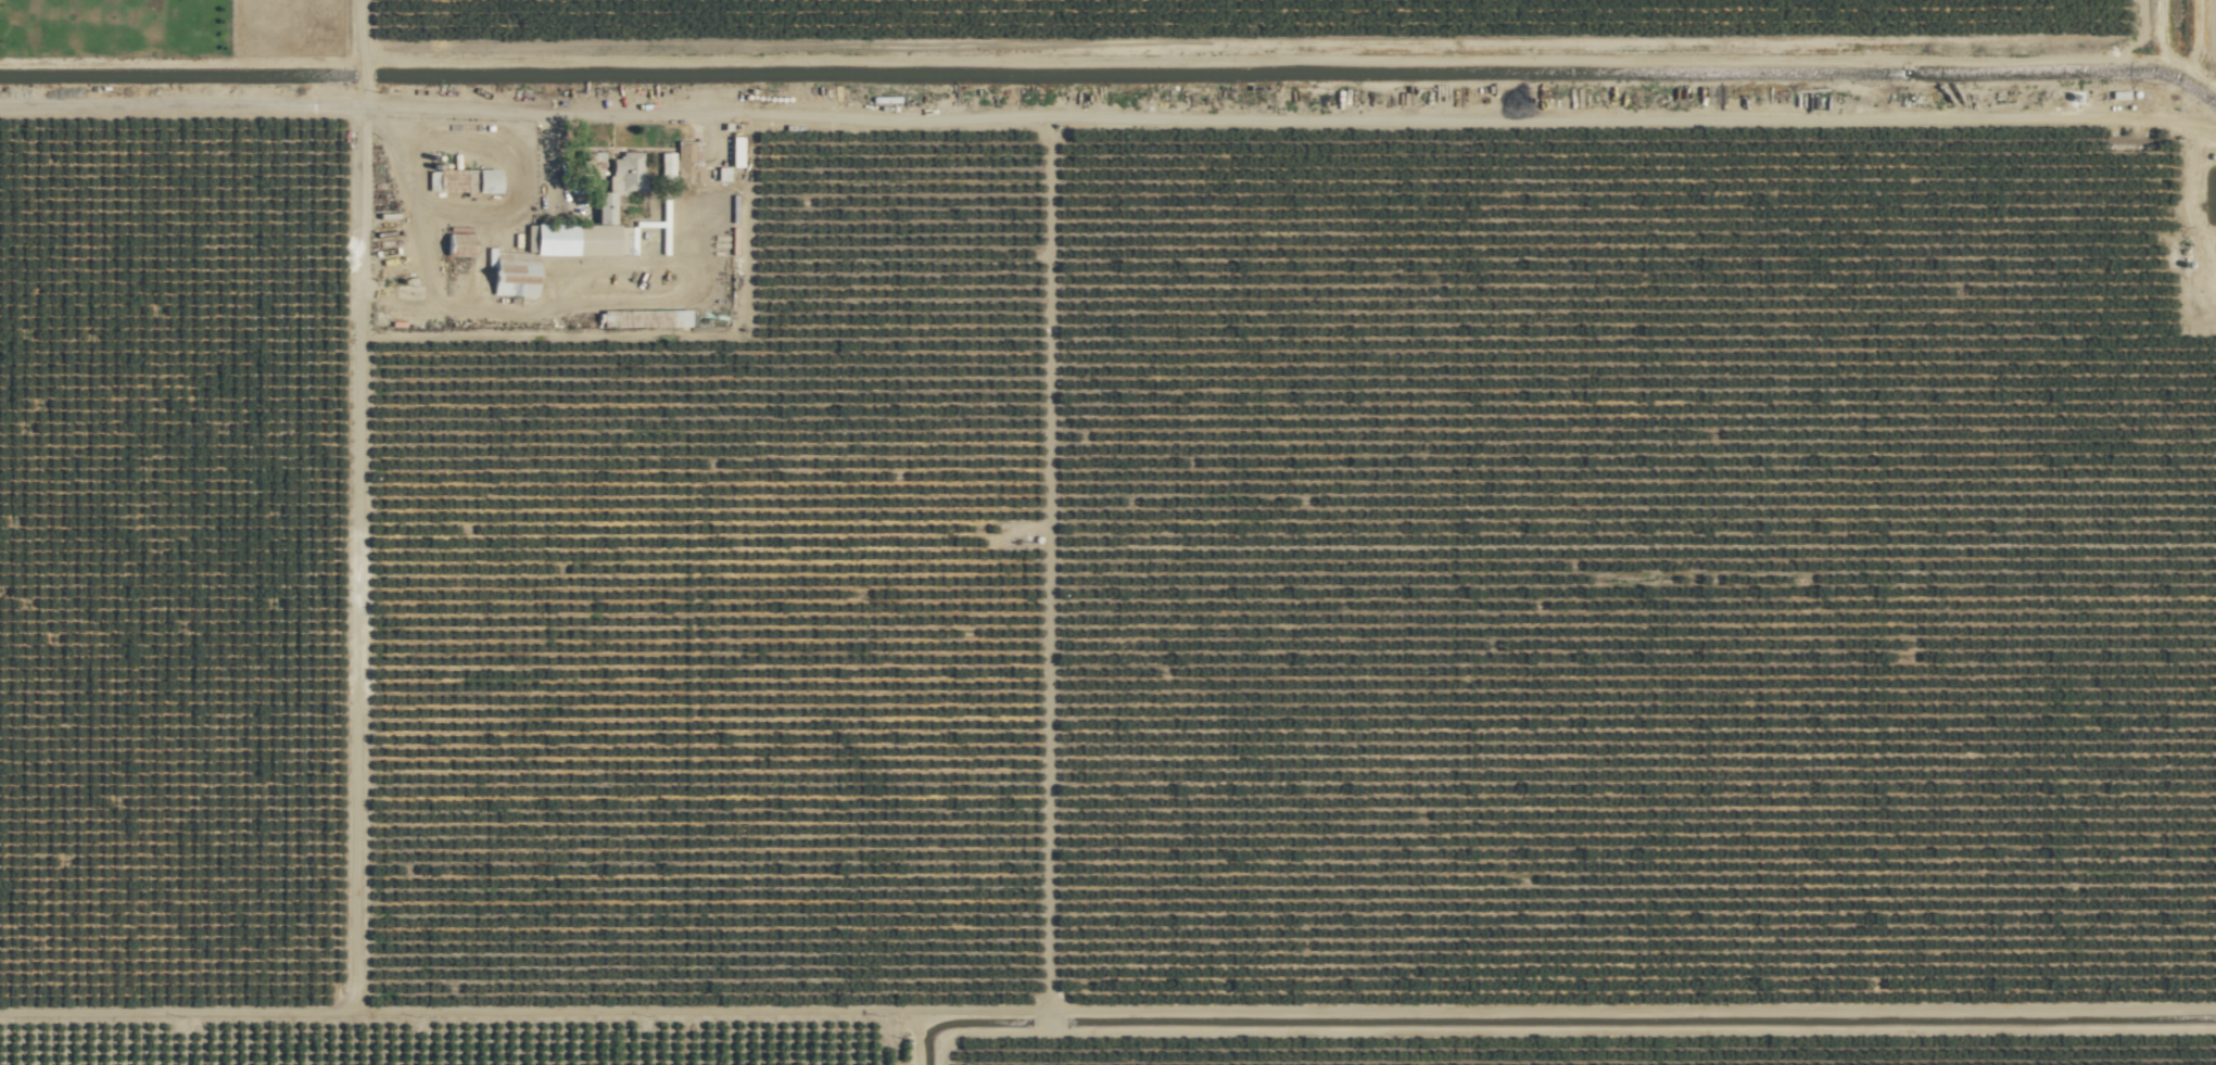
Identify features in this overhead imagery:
road: (341, 55)
road: (523, 111)
road: (554, 156)
building: (630, 170)
building: (470, 179)
building: (685, 217)
building: (460, 244)
building: (556, 249)
building: (647, 317)
road: (351, 734)

